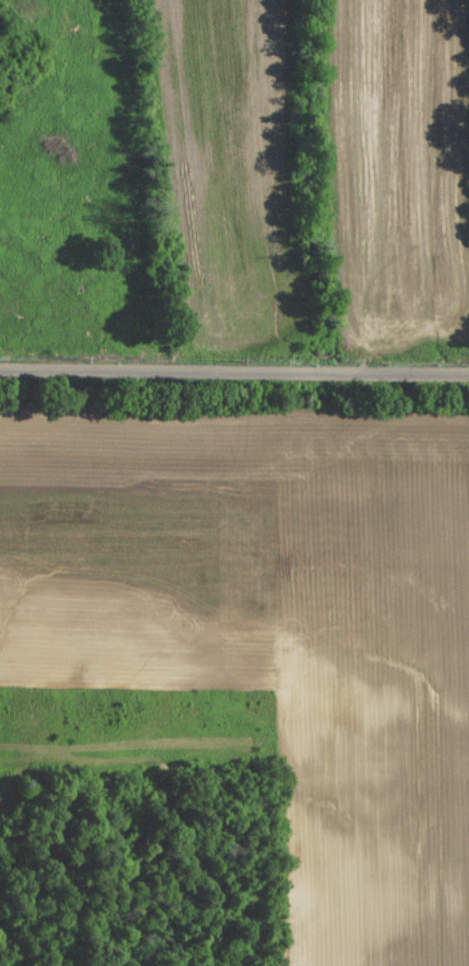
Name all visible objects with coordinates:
road: (234, 376)

